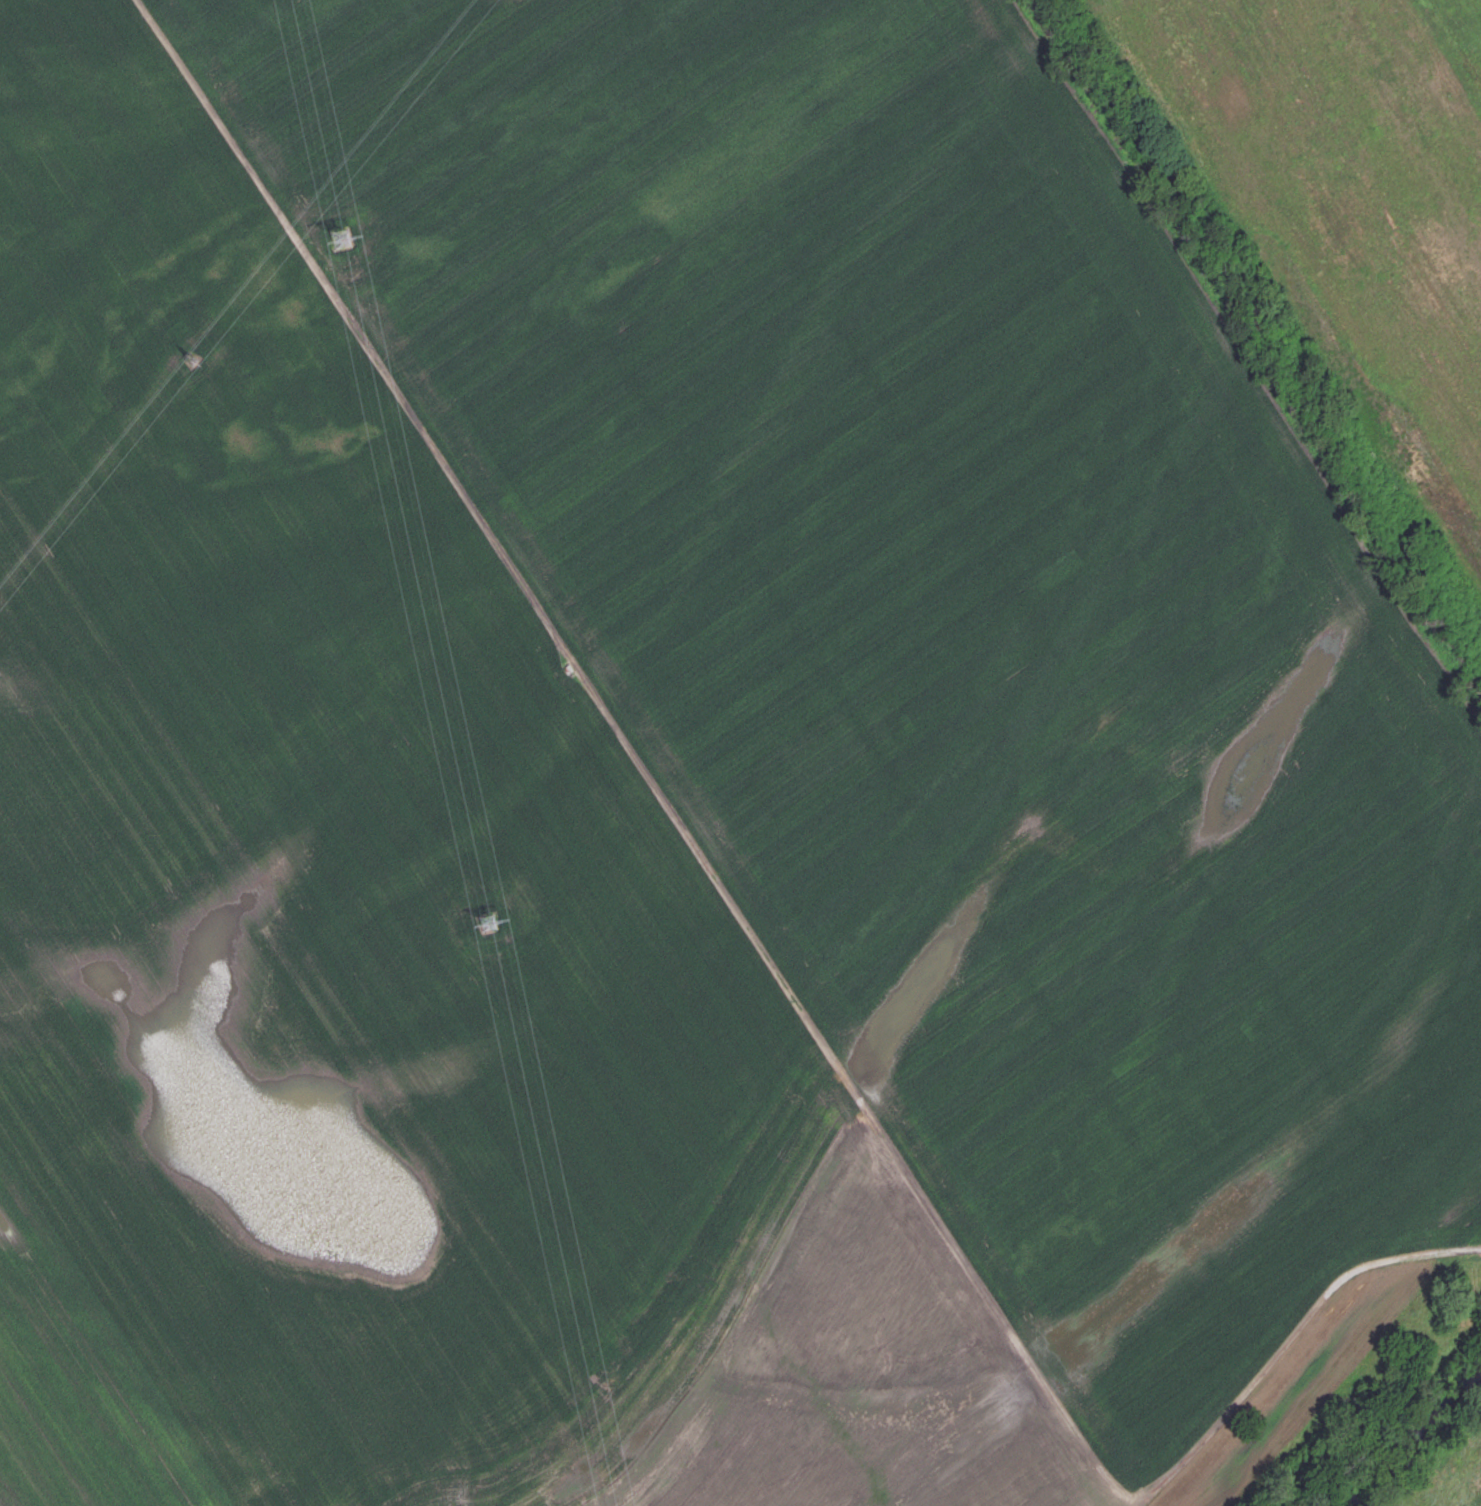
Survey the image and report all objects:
crop: (1352, 192)
power tower: (337, 239)
power tower: (196, 354)
crop: (680, 786)
power tower: (483, 923)
road: (755, 939)
crop: (1453, 1479)

